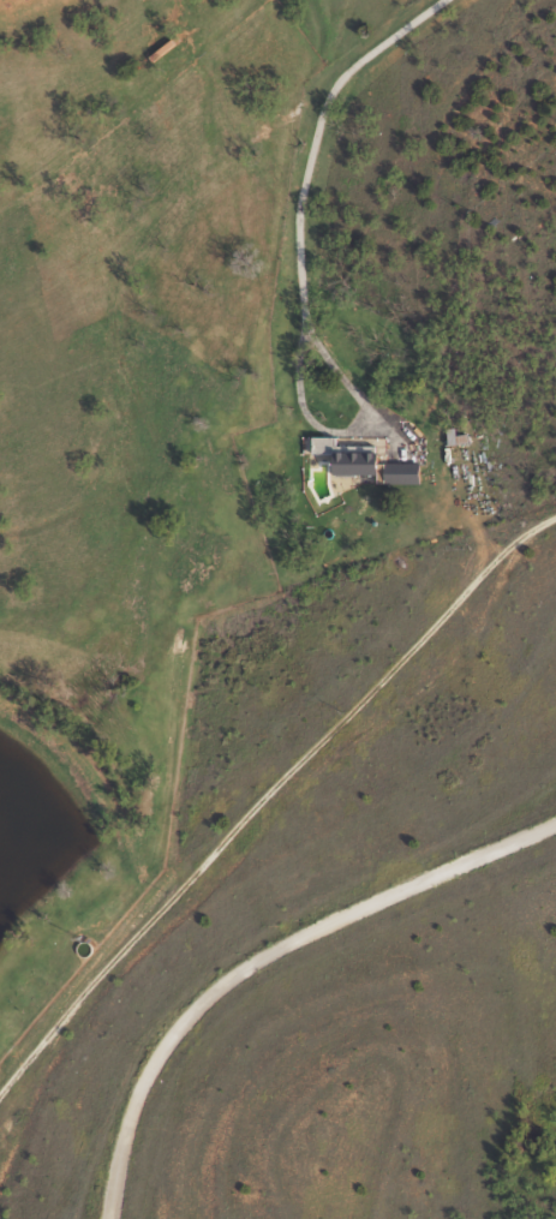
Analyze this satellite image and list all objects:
road: (317, 129)
road: (343, 426)
building: (454, 436)
building: (340, 456)
building: (400, 472)

